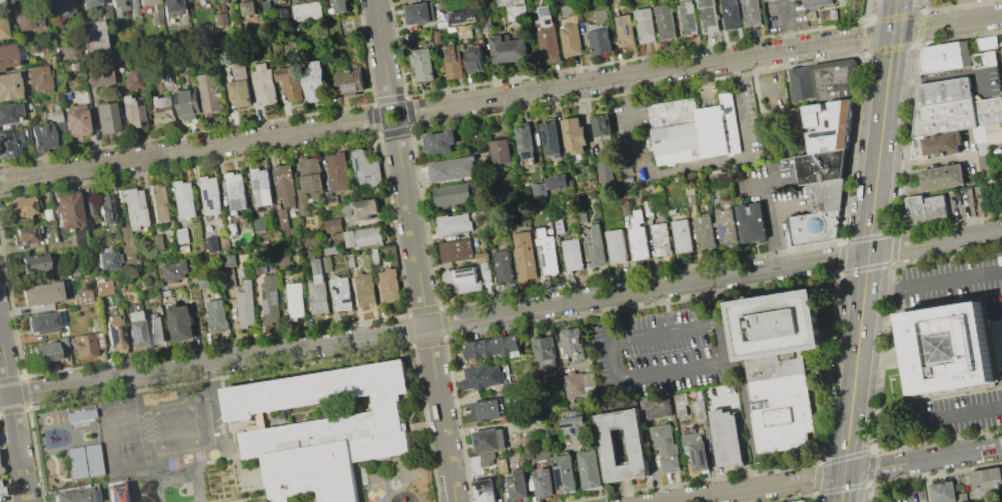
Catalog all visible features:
building: (195, 0)
building: (400, 0)
building: (0, 1)
building: (145, 2)
building: (819, 2)
building: (87, 3)
building: (118, 5)
building: (267, 5)
building: (341, 6)
building: (61, 8)
building: (133, 8)
building: (249, 8)
building: (514, 8)
building: (170, 10)
building: (306, 11)
rooftop solar panel: (545, 11)
building: (750, 12)
building: (105, 13)
building: (419, 13)
building: (283, 14)
building: (463, 14)
rooftop solar panel: (704, 14)
building: (730, 14)
parking lot: (786, 14)
building: (597, 15)
building: (707, 15)
road: (895, 16)
building: (688, 17)
building: (28, 19)
building: (220, 19)
rooftop solar panel: (620, 20)
building: (665, 22)
road: (947, 23)
building: (645, 24)
road: (787, 26)
building: (2, 27)
building: (296, 27)
rooftop solar panel: (627, 28)
building: (289, 30)
building: (464, 31)
building: (626, 31)
traffic signals: (893, 33)
building: (548, 34)
building: (437, 36)
building: (570, 37)
building: (92, 39)
building: (600, 40)
building: (986, 42)
rooftop solar panel: (448, 49)
building: (508, 49)
building: (224, 50)
road: (383, 52)
building: (64, 53)
building: (10, 54)
building: (944, 56)
building: (475, 59)
building: (984, 59)
building: (452, 61)
building: (423, 63)
building: (97, 72)
road: (647, 72)
road: (946, 75)
building: (162, 78)
building: (834, 78)
building: (131, 79)
building: (37, 80)
building: (315, 81)
building: (349, 82)
building: (801, 82)
building: (264, 83)
building: (289, 83)
rooftop solar panel: (351, 84)
building: (238, 85)
building: (9, 86)
building: (943, 91)
building: (210, 93)
building: (187, 103)
building: (161, 108)
building: (987, 110)
road: (402, 111)
building: (10, 112)
building: (132, 112)
building: (54, 116)
building: (104, 117)
building: (943, 117)
building: (74, 122)
building: (601, 124)
building: (828, 125)
building: (692, 129)
rooftop solar panel: (824, 131)
rooftop solar panel: (545, 135)
building: (574, 135)
building: (42, 137)
building: (550, 138)
building: (441, 141)
building: (526, 142)
building: (943, 143)
building: (9, 144)
road: (191, 149)
building: (500, 151)
rooftop solar panel: (525, 155)
rooftop solar panel: (359, 162)
road: (694, 166)
building: (821, 166)
building: (365, 168)
building: (453, 169)
building: (338, 170)
rooftop solar panel: (358, 172)
building: (311, 173)
building: (606, 173)
rooftop solar panel: (369, 174)
building: (941, 177)
rooftop solar panel: (367, 179)
building: (555, 181)
rooftop solar panel: (258, 182)
building: (261, 185)
building: (284, 185)
building: (539, 190)
building: (236, 191)
building: (210, 193)
building: (452, 193)
building: (825, 194)
rooftop solar panel: (208, 196)
building: (984, 197)
building: (185, 198)
building: (160, 203)
rooftop solar panel: (236, 204)
building: (18, 207)
building: (648, 207)
building: (362, 208)
building: (926, 208)
building: (105, 209)
building: (67, 210)
building: (283, 217)
building: (131, 218)
road: (778, 221)
building: (453, 222)
building: (752, 222)
building: (259, 224)
building: (333, 224)
road: (769, 224)
building: (726, 225)
building: (813, 225)
building: (232, 228)
rooftop solar panel: (723, 230)
building: (705, 232)
building: (24, 235)
building: (182, 235)
building: (363, 236)
building: (682, 236)
building: (78, 237)
building: (638, 237)
building: (661, 239)
building: (157, 241)
building: (594, 244)
building: (616, 245)
rooftop solar panel: (541, 247)
building: (330, 250)
building: (455, 250)
building: (547, 250)
rooftop solar panel: (541, 253)
building: (523, 254)
building: (571, 254)
building: (375, 255)
building: (482, 256)
building: (106, 259)
rooftop solar panel: (543, 260)
building: (32, 263)
building: (327, 263)
building: (503, 266)
rooftop solar panel: (467, 267)
road: (866, 267)
building: (175, 270)
rooftop solar panel: (466, 272)
building: (227, 275)
building: (465, 278)
building: (203, 281)
road: (932, 282)
building: (389, 285)
building: (101, 287)
building: (318, 289)
building: (365, 289)
building: (340, 293)
building: (40, 294)
building: (83, 295)
building: (270, 299)
rooftop solar panel: (275, 300)
building: (295, 300)
road: (836, 304)
rooftop solar panel: (267, 305)
building: (245, 306)
road: (500, 313)
road: (425, 314)
building: (217, 315)
building: (180, 321)
building: (41, 323)
building: (155, 329)
rooftop solar panel: (132, 331)
road: (669, 331)
building: (135, 332)
building: (113, 333)
road: (612, 337)
building: (572, 344)
building: (83, 345)
building: (948, 347)
parking lot: (998, 347)
building: (492, 348)
road: (782, 348)
building: (545, 350)
parking lot: (666, 350)
building: (43, 352)
road: (399, 353)
road: (737, 355)
rooftop solar panel: (50, 356)
building: (779, 364)
road: (251, 370)
road: (674, 370)
building: (483, 375)
road: (219, 378)
road: (743, 379)
building: (577, 384)
building: (369, 403)
building: (680, 404)
road: (50, 406)
building: (658, 407)
building: (489, 409)
building: (252, 410)
building: (698, 410)
road: (411, 411)
road: (966, 413)
building: (78, 414)
building: (279, 415)
road: (13, 416)
rooftop solar panel: (568, 422)
park: (120, 423)
track: (180, 424)
road: (413, 424)
park: (175, 426)
building: (574, 427)
rooftop solar panel: (575, 427)
building: (726, 436)
building: (489, 439)
building: (525, 440)
road: (240, 443)
building: (607, 446)
building: (665, 448)
building: (695, 451)
building: (528, 452)
park: (199, 455)
rooftop solar panel: (696, 455)
rooftop solar panel: (704, 455)
park: (186, 457)
building: (91, 459)
road: (215, 460)
building: (74, 462)
park: (126, 462)
rooftop solar panel: (557, 462)
building: (480, 463)
building: (589, 468)
road: (55, 470)
building: (312, 472)
building: (564, 473)
traffic signals: (843, 473)
road: (835, 474)
rooftop solar panel: (560, 475)
park: (176, 477)
park: (163, 479)
building: (986, 480)
road: (183, 482)
building: (543, 482)
road: (361, 483)
building: (516, 484)
road: (260, 486)
rooftop solar panel: (114, 488)
building: (1, 489)
building: (484, 490)
building: (115, 491)
building: (947, 492)
rooftop solar panel: (92, 494)
building: (77, 495)
rooftop solar panel: (111, 498)
rooftop solar panel: (122, 498)
road: (304, 498)
parking lot: (284, 499)
park: (259, 500)
building: (801, 501)
building: (1000, 501)

